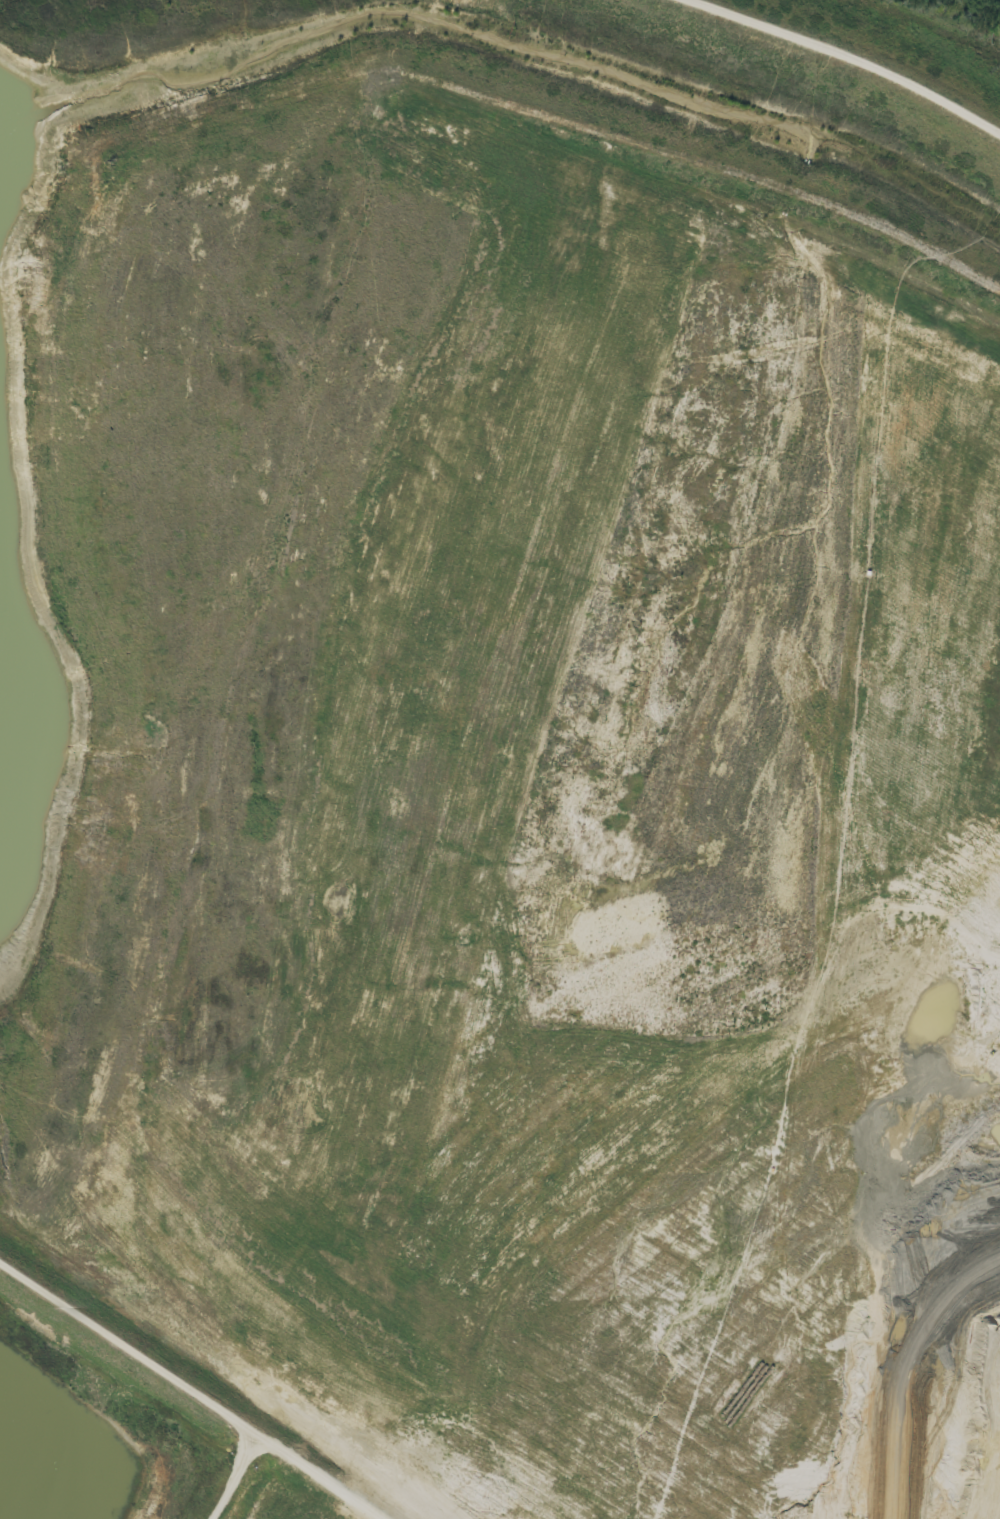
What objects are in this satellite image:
quarry: (499, 760)

